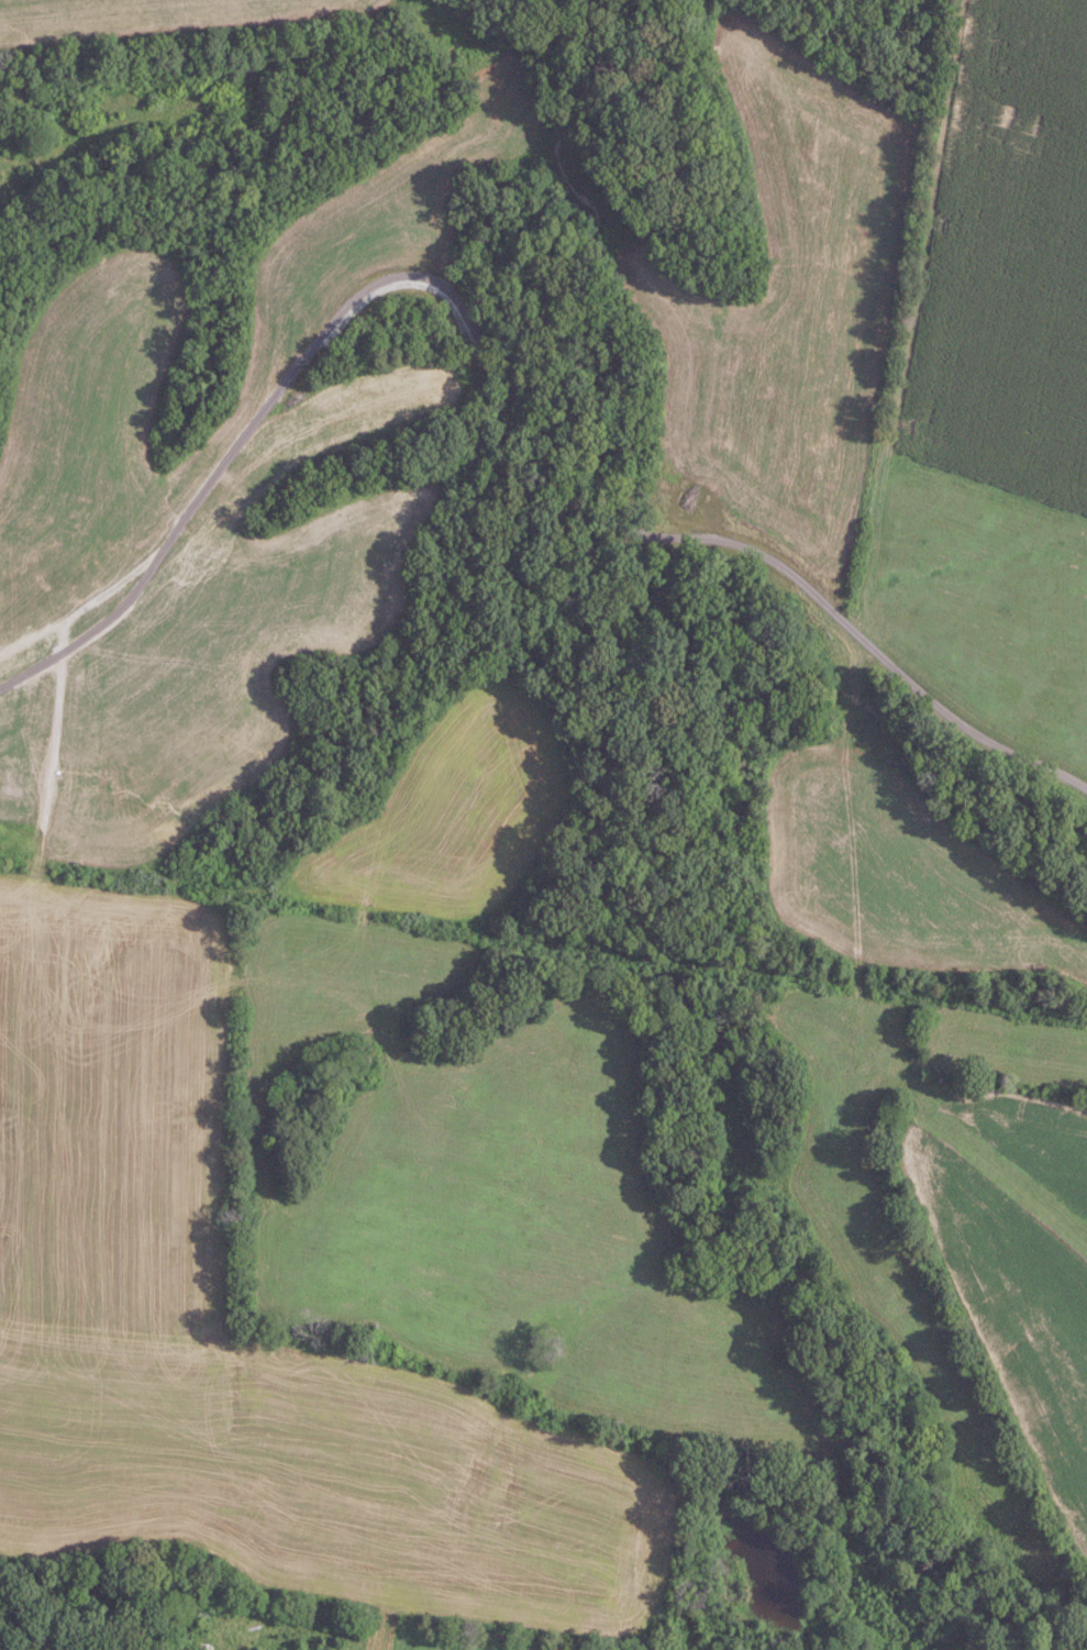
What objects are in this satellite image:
road: (500, 373)

